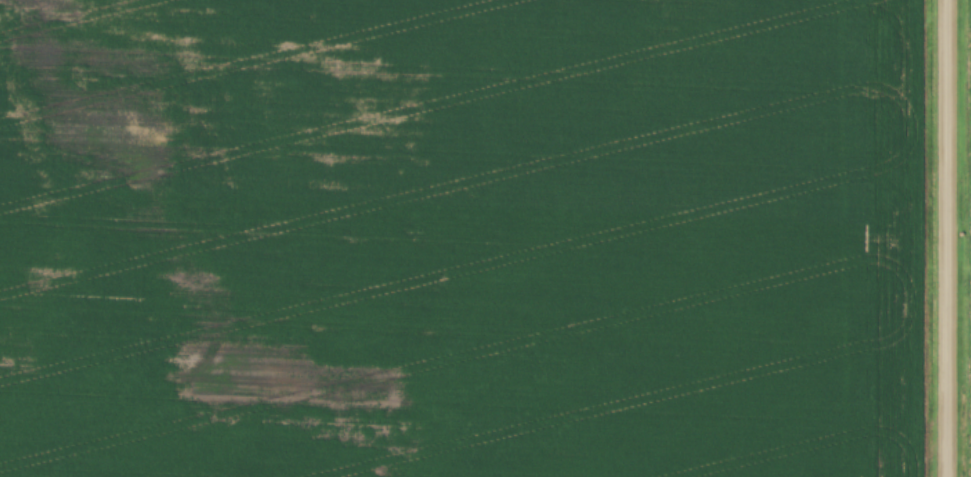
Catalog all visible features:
road: (946, 238)

